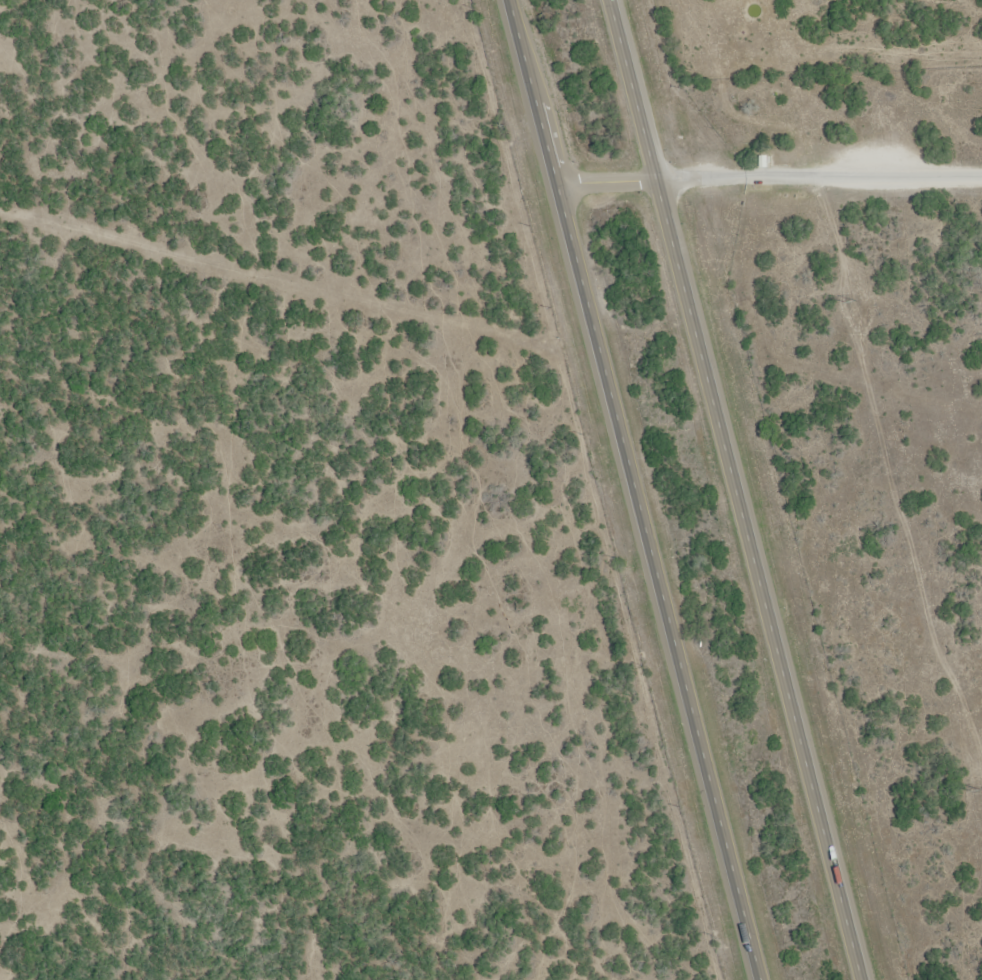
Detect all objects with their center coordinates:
road: (770, 180)
road: (684, 282)
road: (589, 295)
power tower: (851, 300)
road: (813, 771)
road: (717, 785)
power tower: (978, 790)

